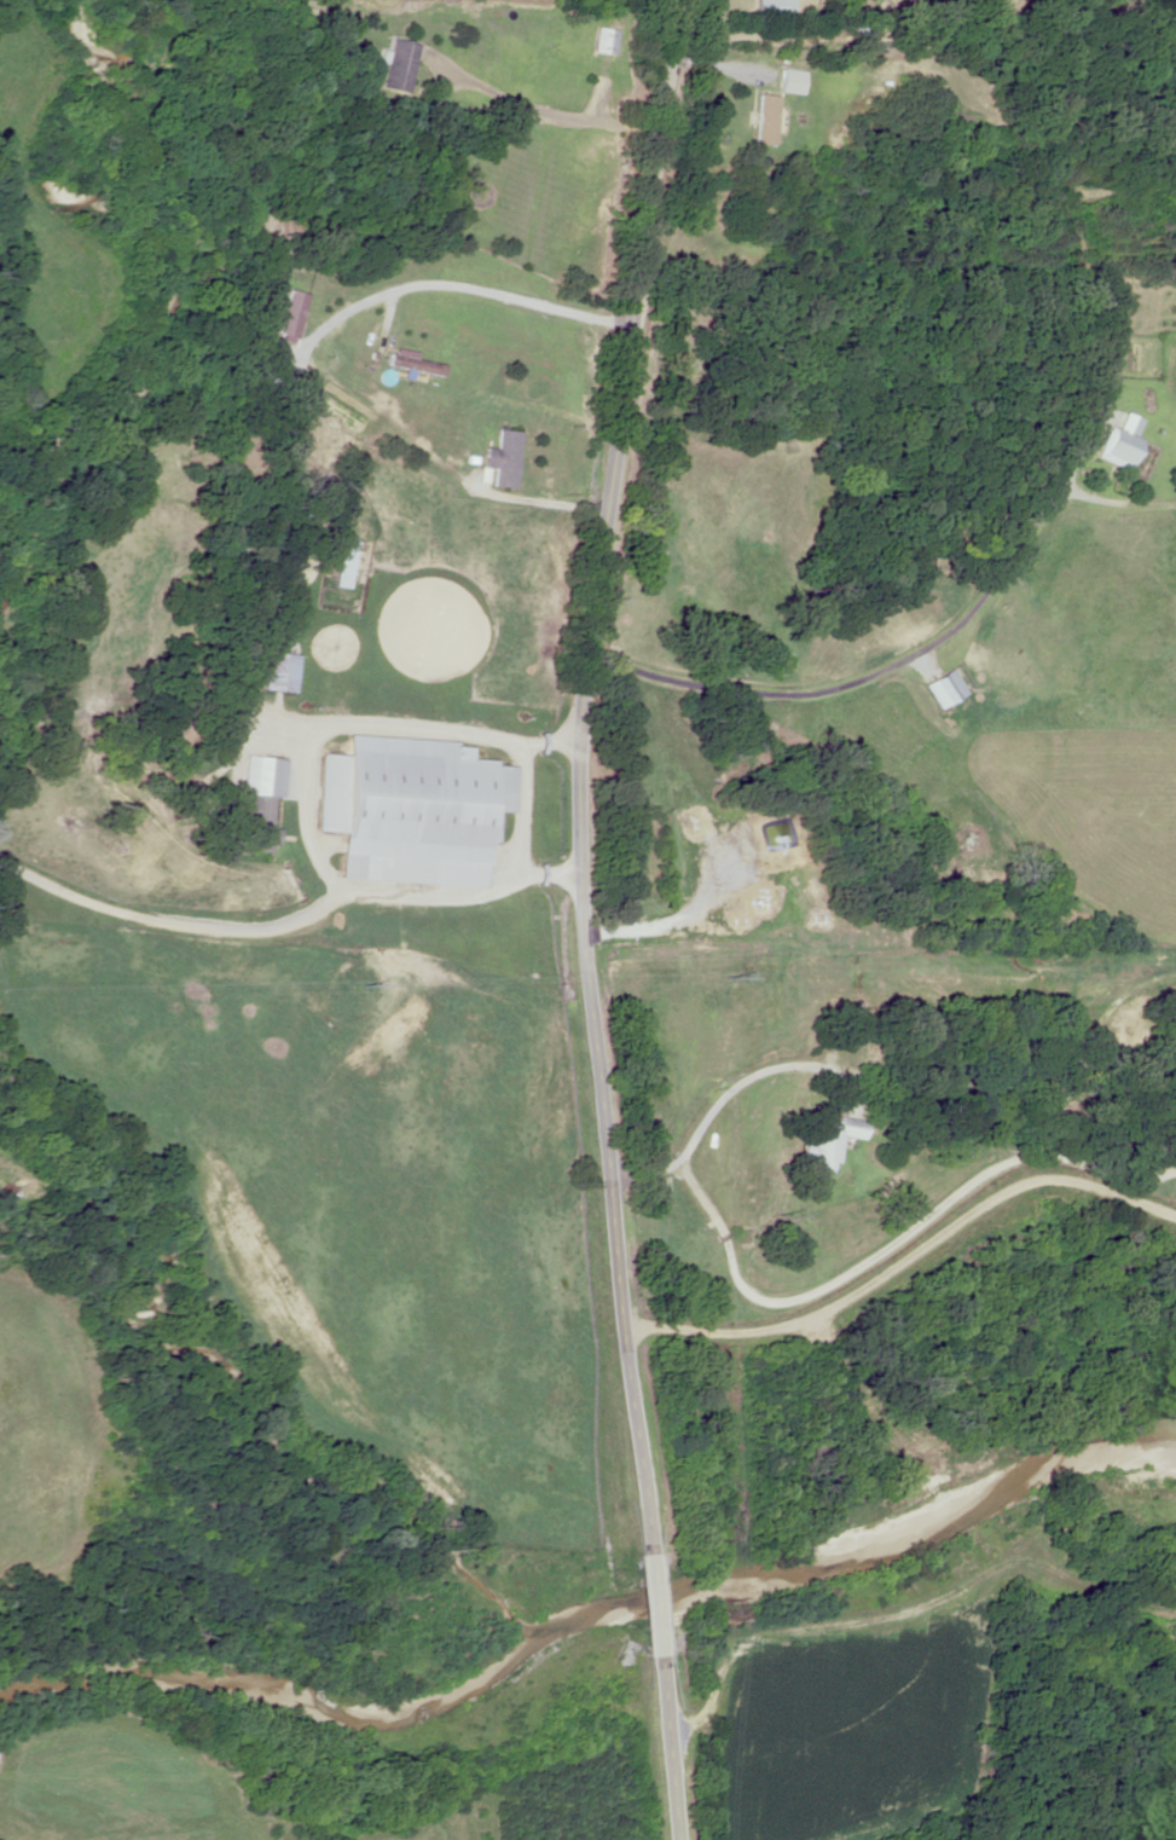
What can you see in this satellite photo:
building: (769, 8)
building: (861, 29)
building: (606, 41)
building: (395, 65)
building: (760, 118)
building: (286, 313)
building: (251, 354)
building: (1090, 363)
building: (410, 364)
building: (266, 381)
building: (1113, 442)
building: (497, 458)
building: (276, 672)
building: (937, 689)
building: (214, 727)
building: (257, 799)
building: (410, 810)
road: (616, 919)
power tower: (724, 976)
power tower: (351, 984)
building: (822, 1141)
road: (919, 1259)

